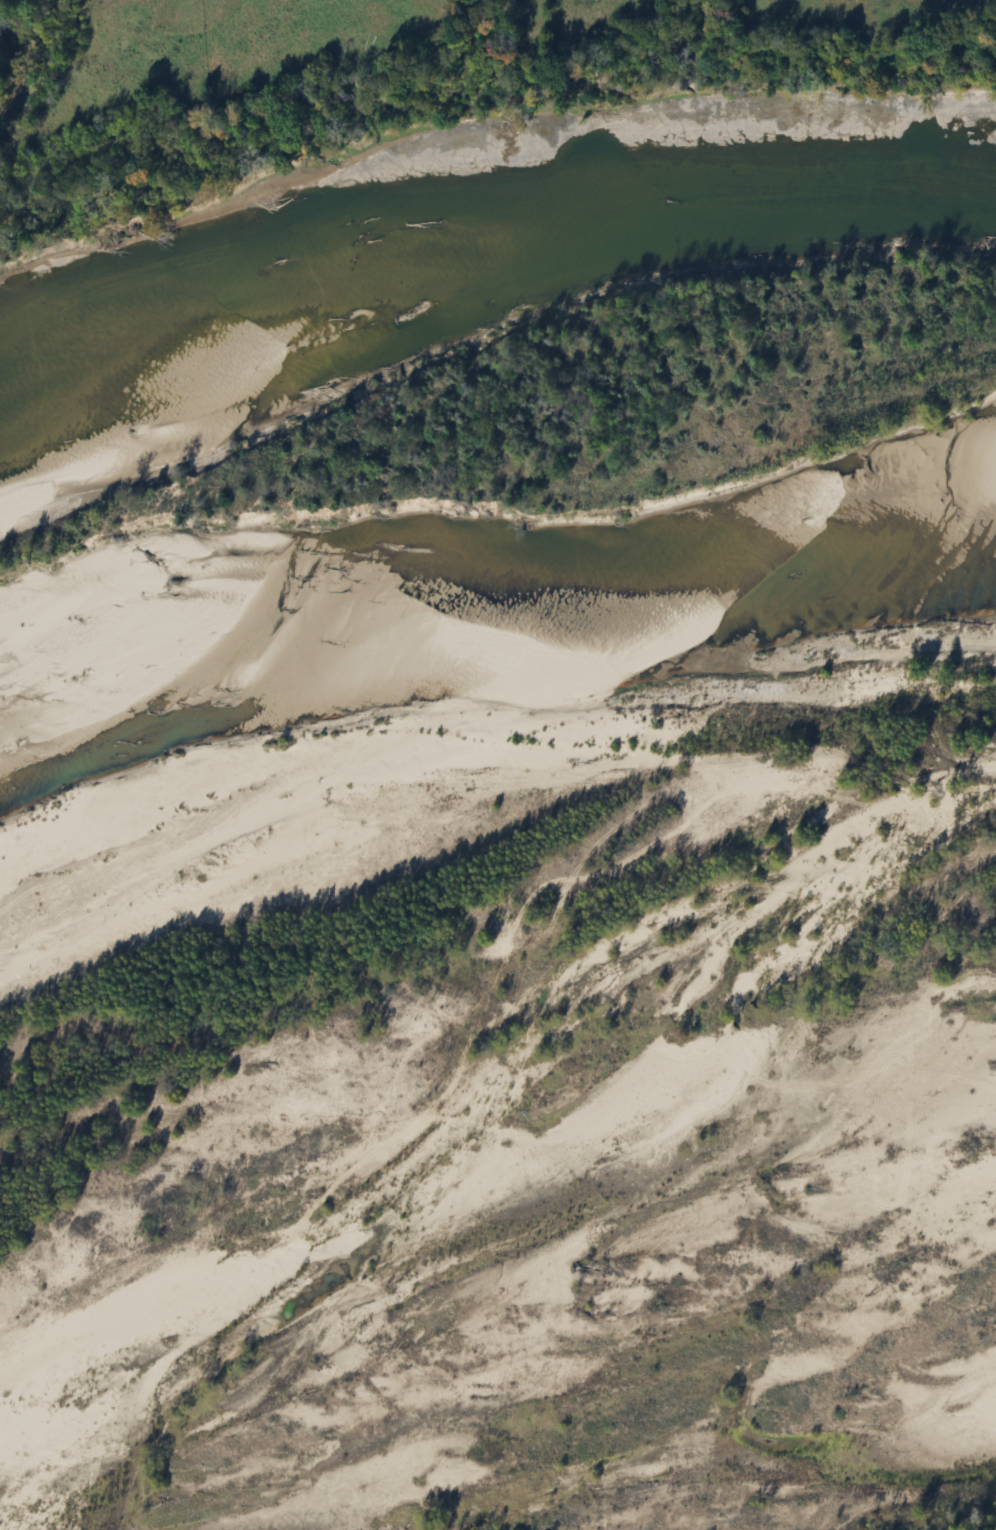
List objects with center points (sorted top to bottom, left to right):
river: (489, 215)

